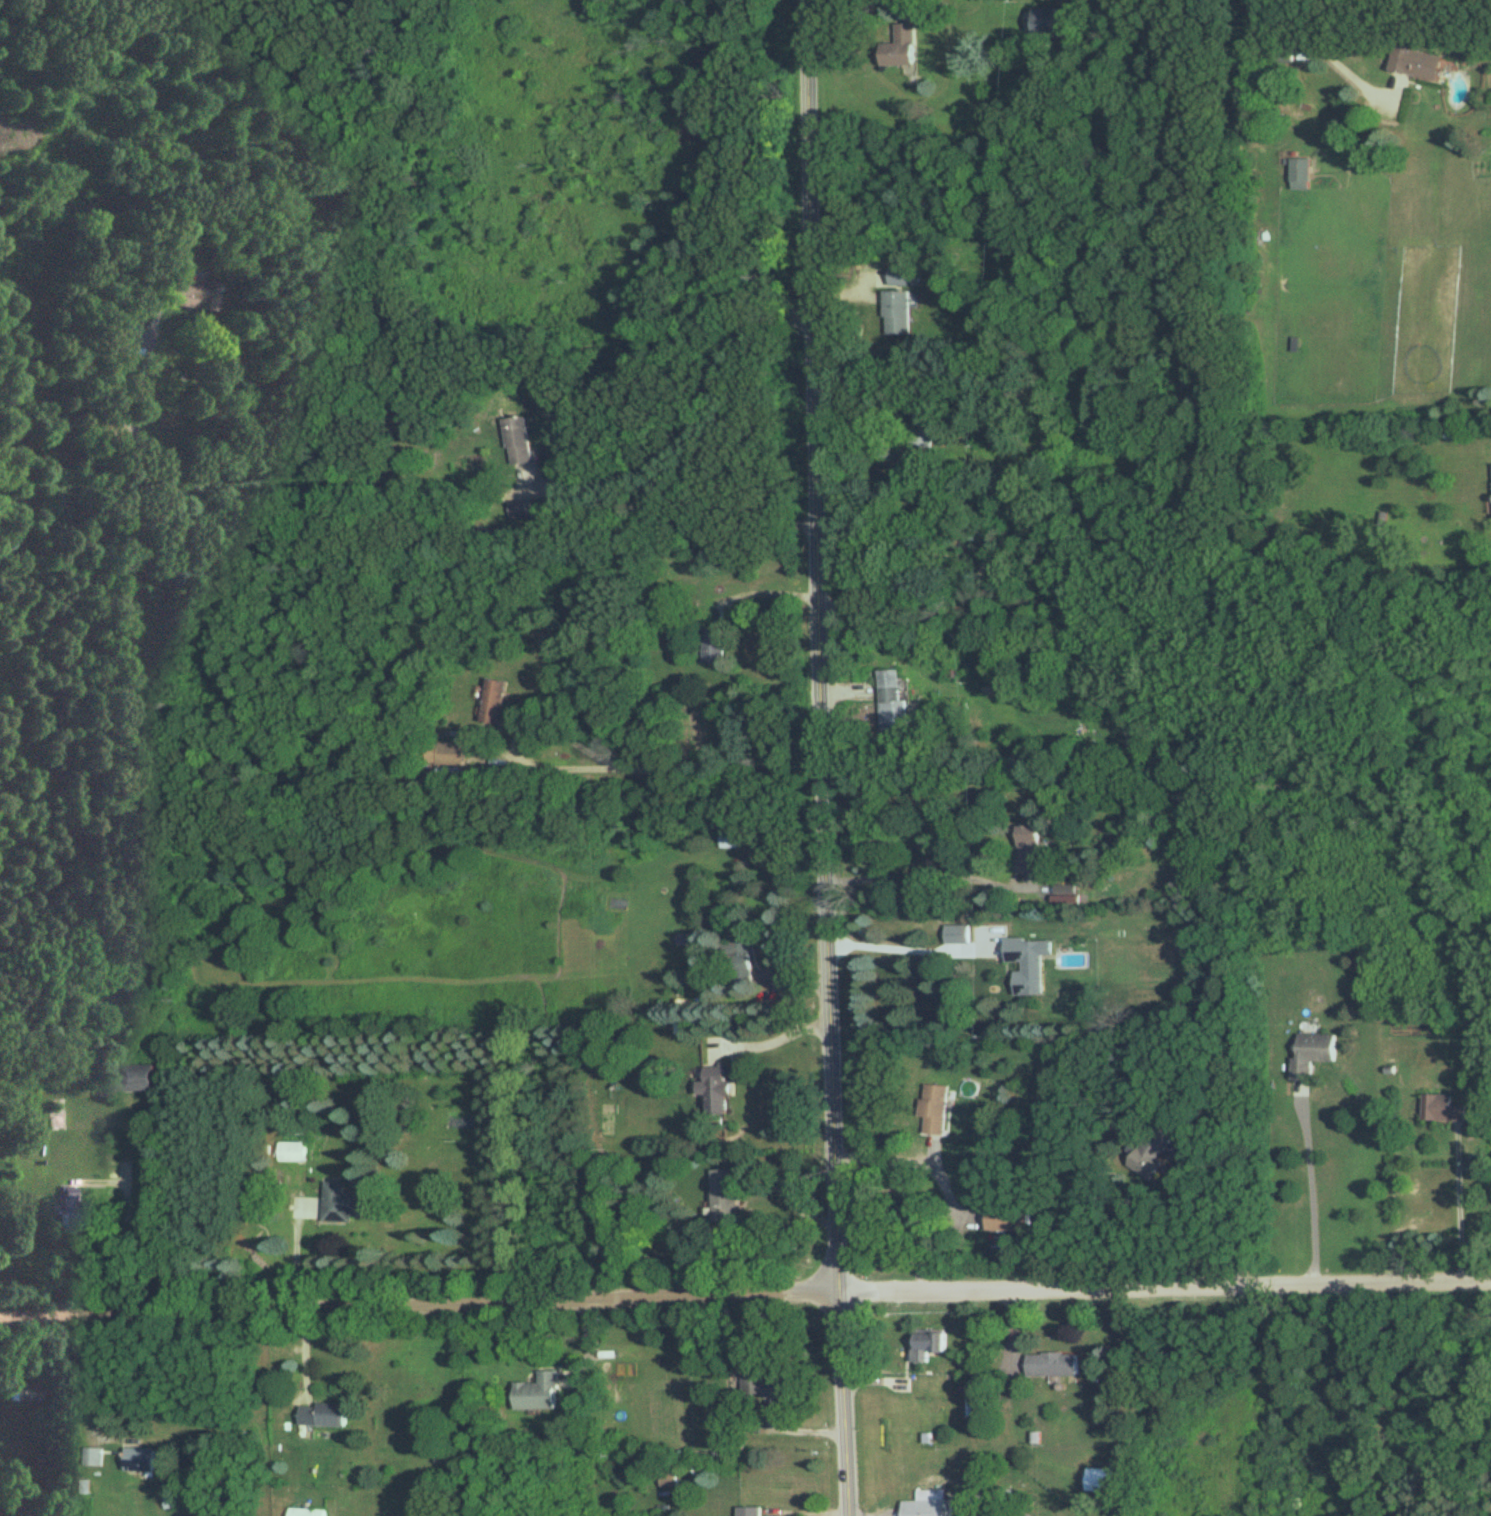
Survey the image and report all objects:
building: (1050, 21)
building: (898, 47)
building: (1280, 51)
road: (1321, 52)
building: (1412, 62)
building: (1299, 174)
building: (898, 276)
building: (181, 294)
building: (894, 312)
building: (922, 427)
road: (688, 435)
building: (513, 440)
road: (389, 540)
building: (691, 552)
road: (758, 591)
building: (712, 648)
building: (491, 702)
building: (889, 704)
building: (449, 754)
road: (814, 758)
road: (687, 764)
building: (736, 837)
building: (1026, 850)
building: (956, 933)
road: (895, 940)
building: (1026, 963)
building: (737, 964)
building: (1310, 1052)
building: (712, 1088)
building: (1440, 1108)
building: (933, 1109)
building: (1150, 1155)
road: (1310, 1180)
building: (723, 1195)
road: (1460, 1200)
road: (1236, 1203)
building: (347, 1204)
building: (76, 1214)
building: (1002, 1219)
road: (947, 1227)
road: (745, 1287)
building: (924, 1345)
building: (1051, 1364)
road: (90, 1376)
building: (759, 1381)
building: (24, 1392)
building: (536, 1392)
building: (325, 1415)
building: (95, 1457)
building: (145, 1460)
building: (668, 1476)
building: (1099, 1480)
building: (923, 1508)
building: (749, 1511)
building: (309, 1512)

